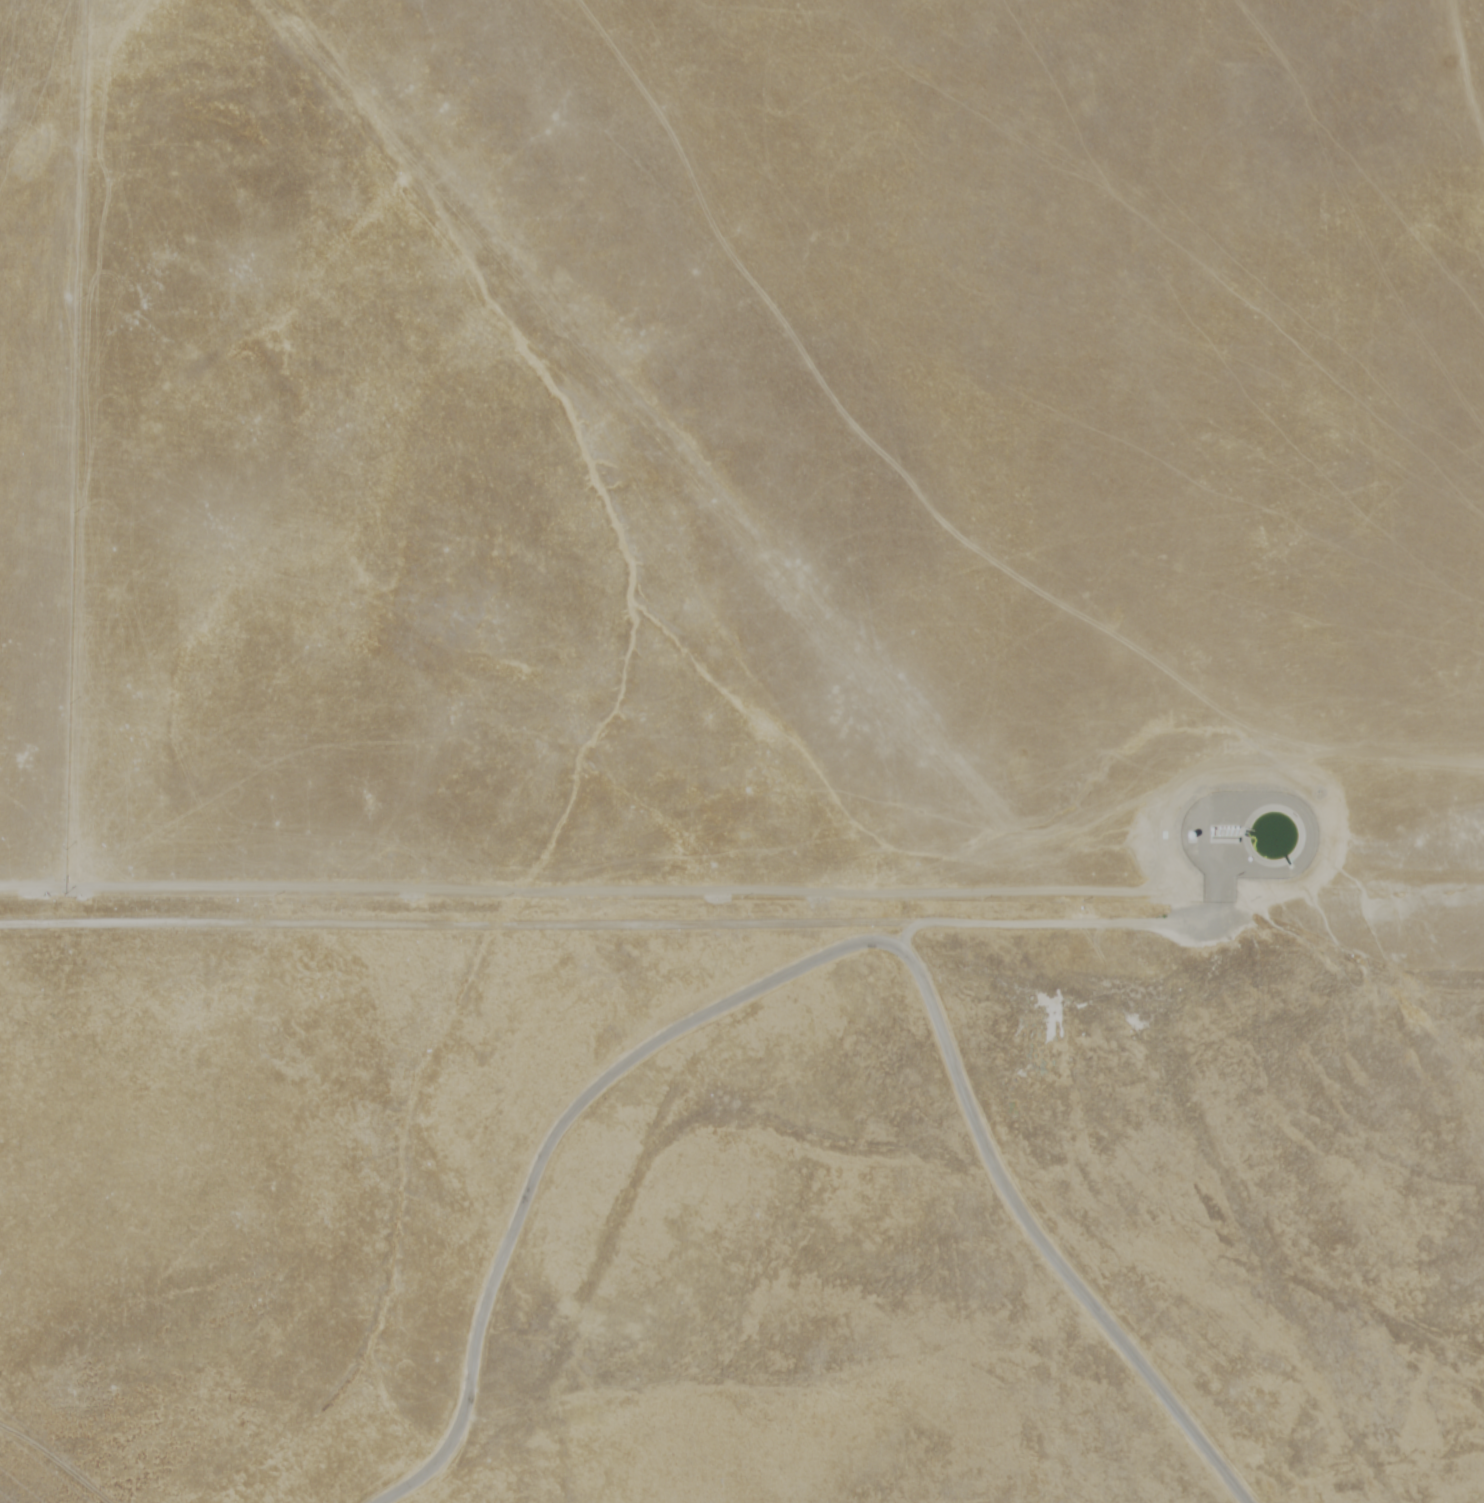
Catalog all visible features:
road: (823, 958)
park: (742, 1208)

